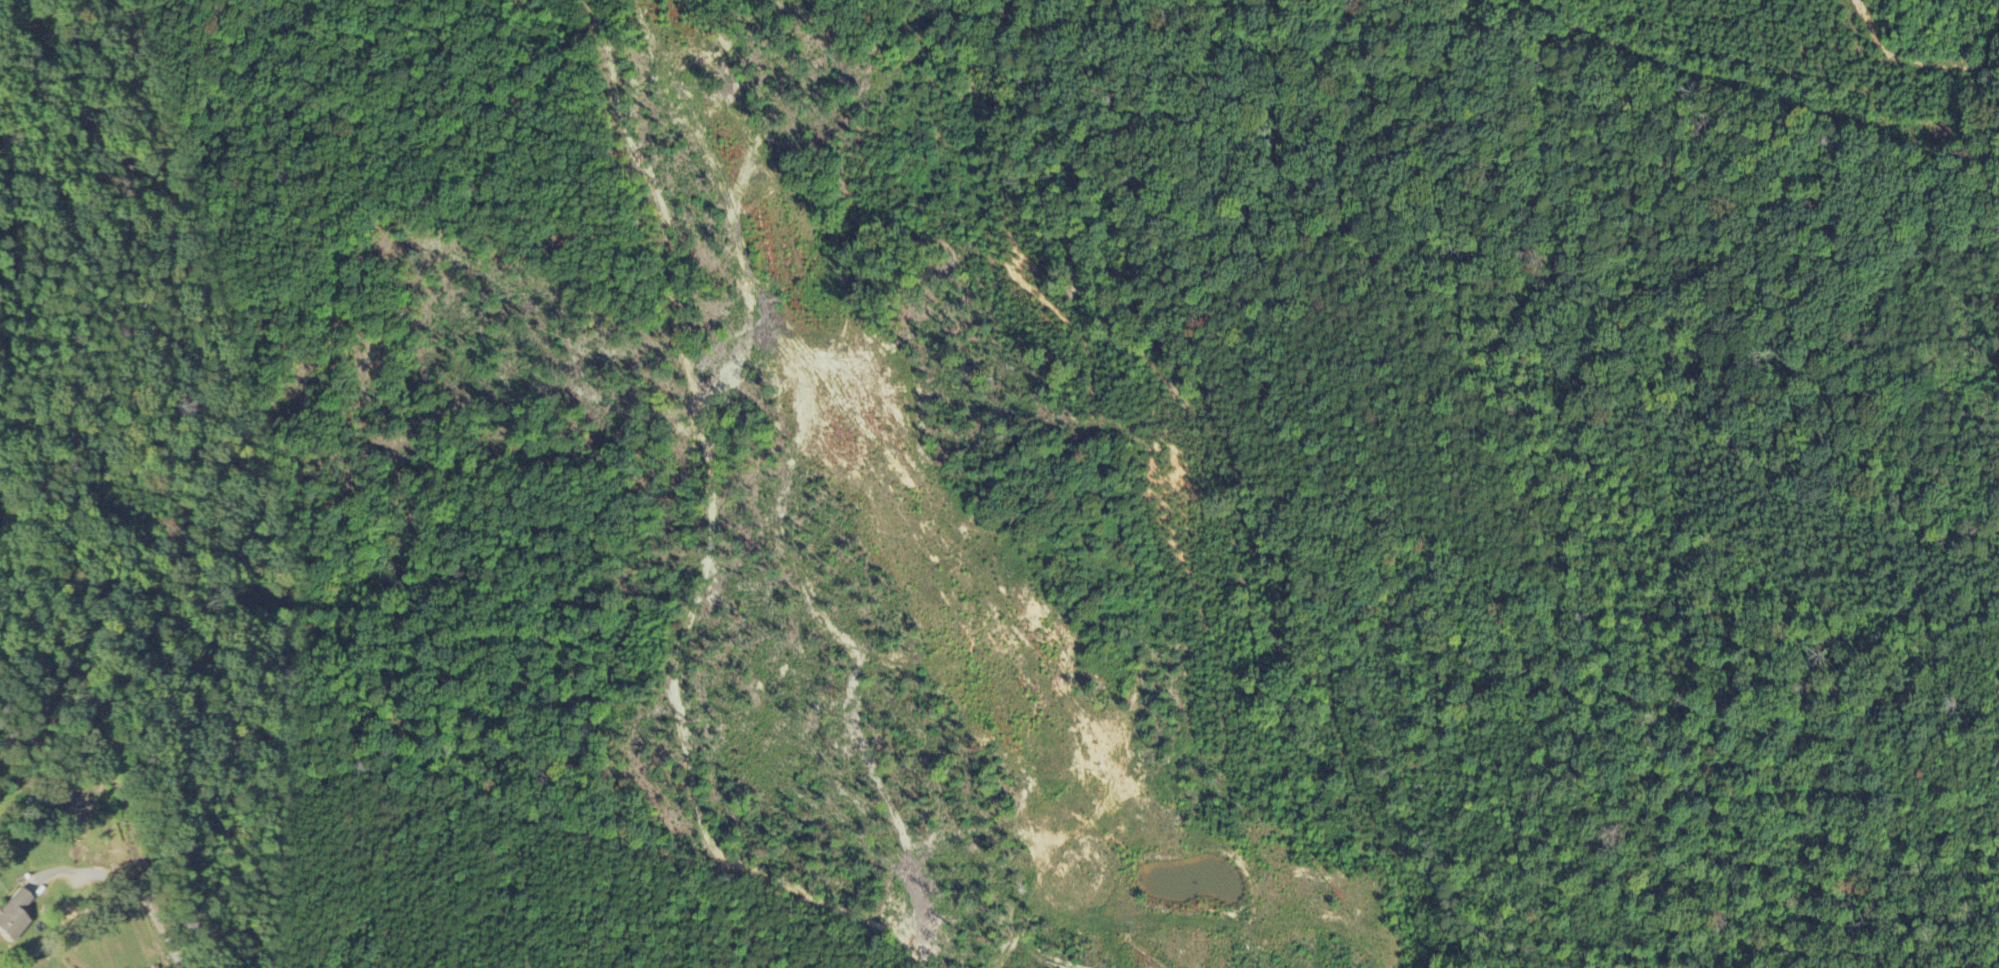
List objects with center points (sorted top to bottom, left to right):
road: (130, 886)
building: (13, 916)

